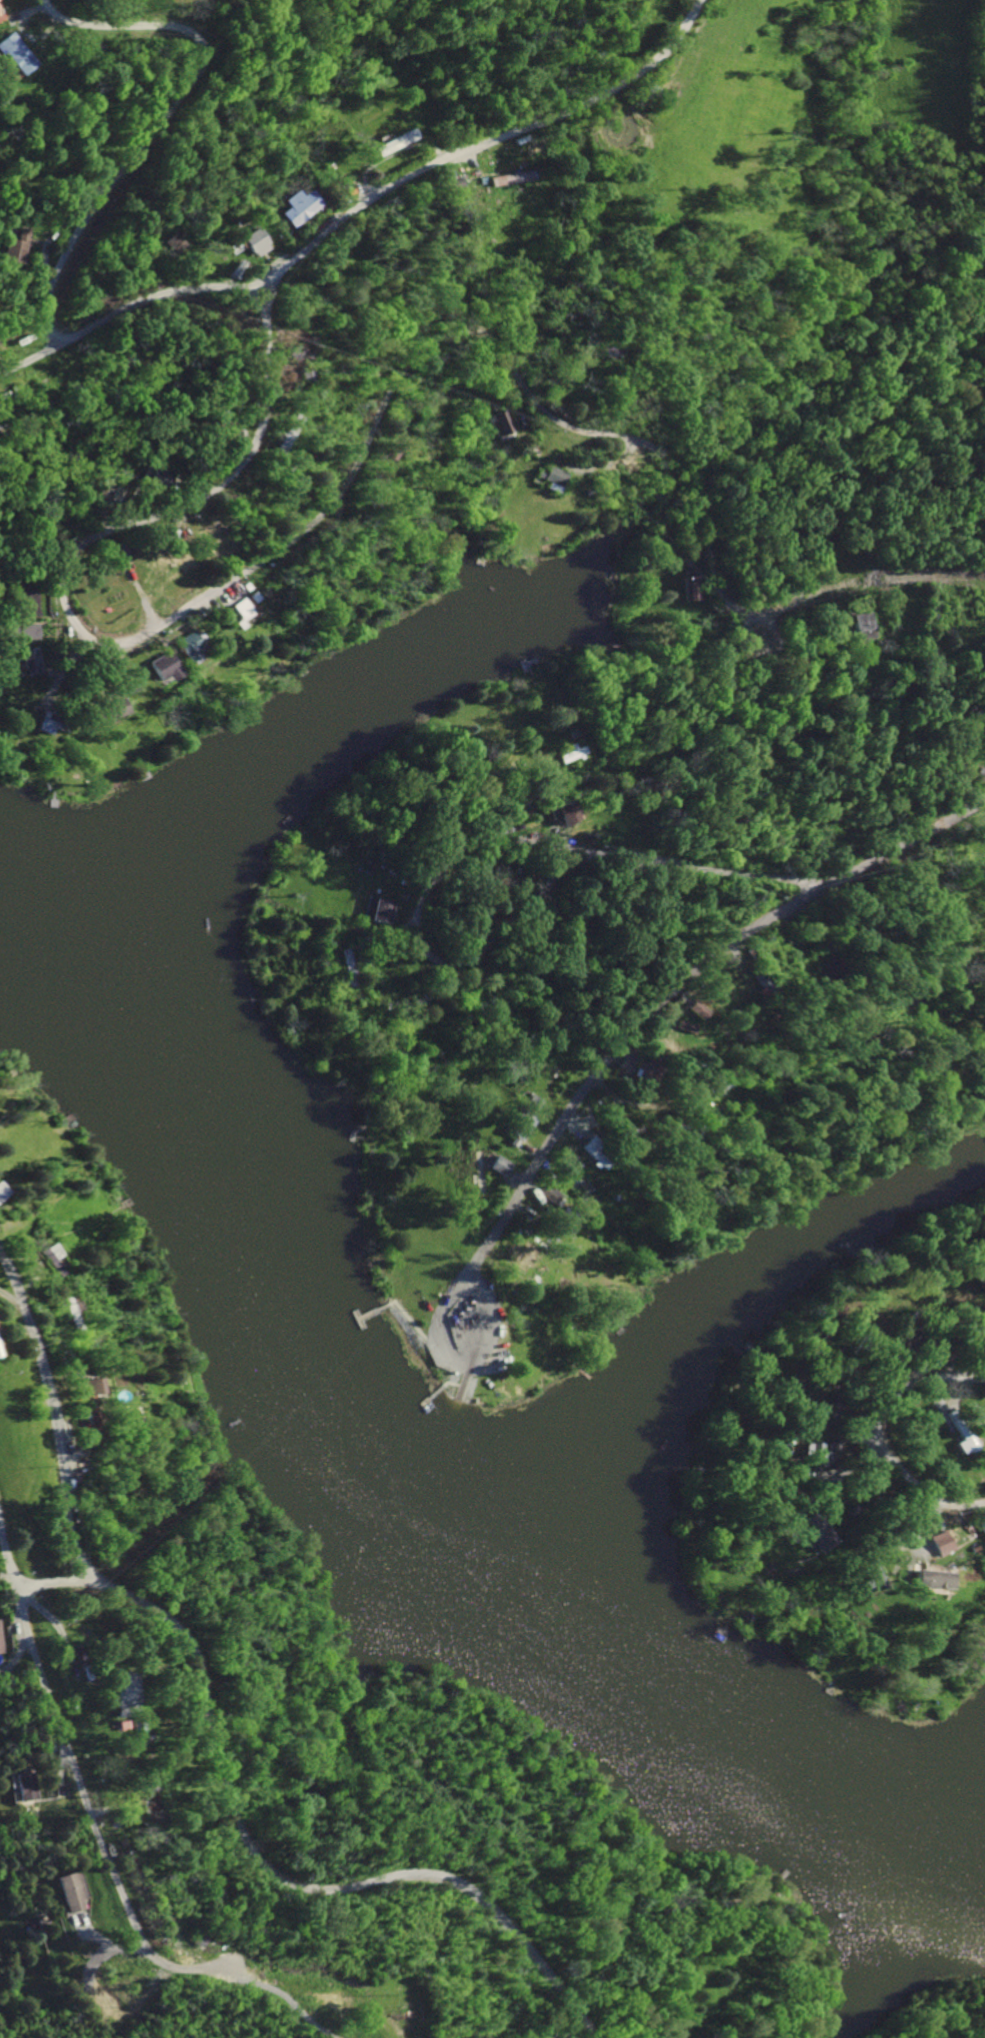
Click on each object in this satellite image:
building: (13, 55)
road: (175, 116)
building: (394, 142)
road: (477, 146)
building: (509, 178)
building: (296, 206)
building: (250, 242)
building: (171, 243)
building: (16, 247)
road: (28, 359)
building: (500, 422)
building: (154, 475)
building: (552, 478)
road: (308, 522)
road: (40, 535)
building: (179, 557)
building: (159, 560)
building: (690, 586)
building: (25, 602)
building: (237, 611)
building: (861, 628)
building: (18, 631)
building: (186, 646)
building: (28, 660)
building: (160, 667)
building: (105, 711)
building: (43, 724)
building: (983, 733)
building: (571, 753)
building: (558, 812)
road: (471, 844)
building: (376, 910)
building: (823, 969)
road: (673, 988)
building: (695, 1010)
road: (730, 1022)
building: (682, 1027)
building: (624, 1061)
building: (527, 1106)
road: (826, 1131)
building: (496, 1166)
building: (546, 1194)
building: (50, 1258)
road: (451, 1360)
building: (85, 1387)
road: (877, 1408)
road: (49, 1416)
building: (965, 1443)
building: (815, 1455)
road: (953, 1503)
building: (818, 1529)
building: (981, 1529)
road: (919, 1531)
building: (939, 1543)
building: (874, 1573)
building: (930, 1578)
building: (0, 1639)
building: (114, 1685)
road: (79, 1782)
building: (29, 1786)
road: (258, 1856)
building: (72, 1892)
road: (317, 1983)

